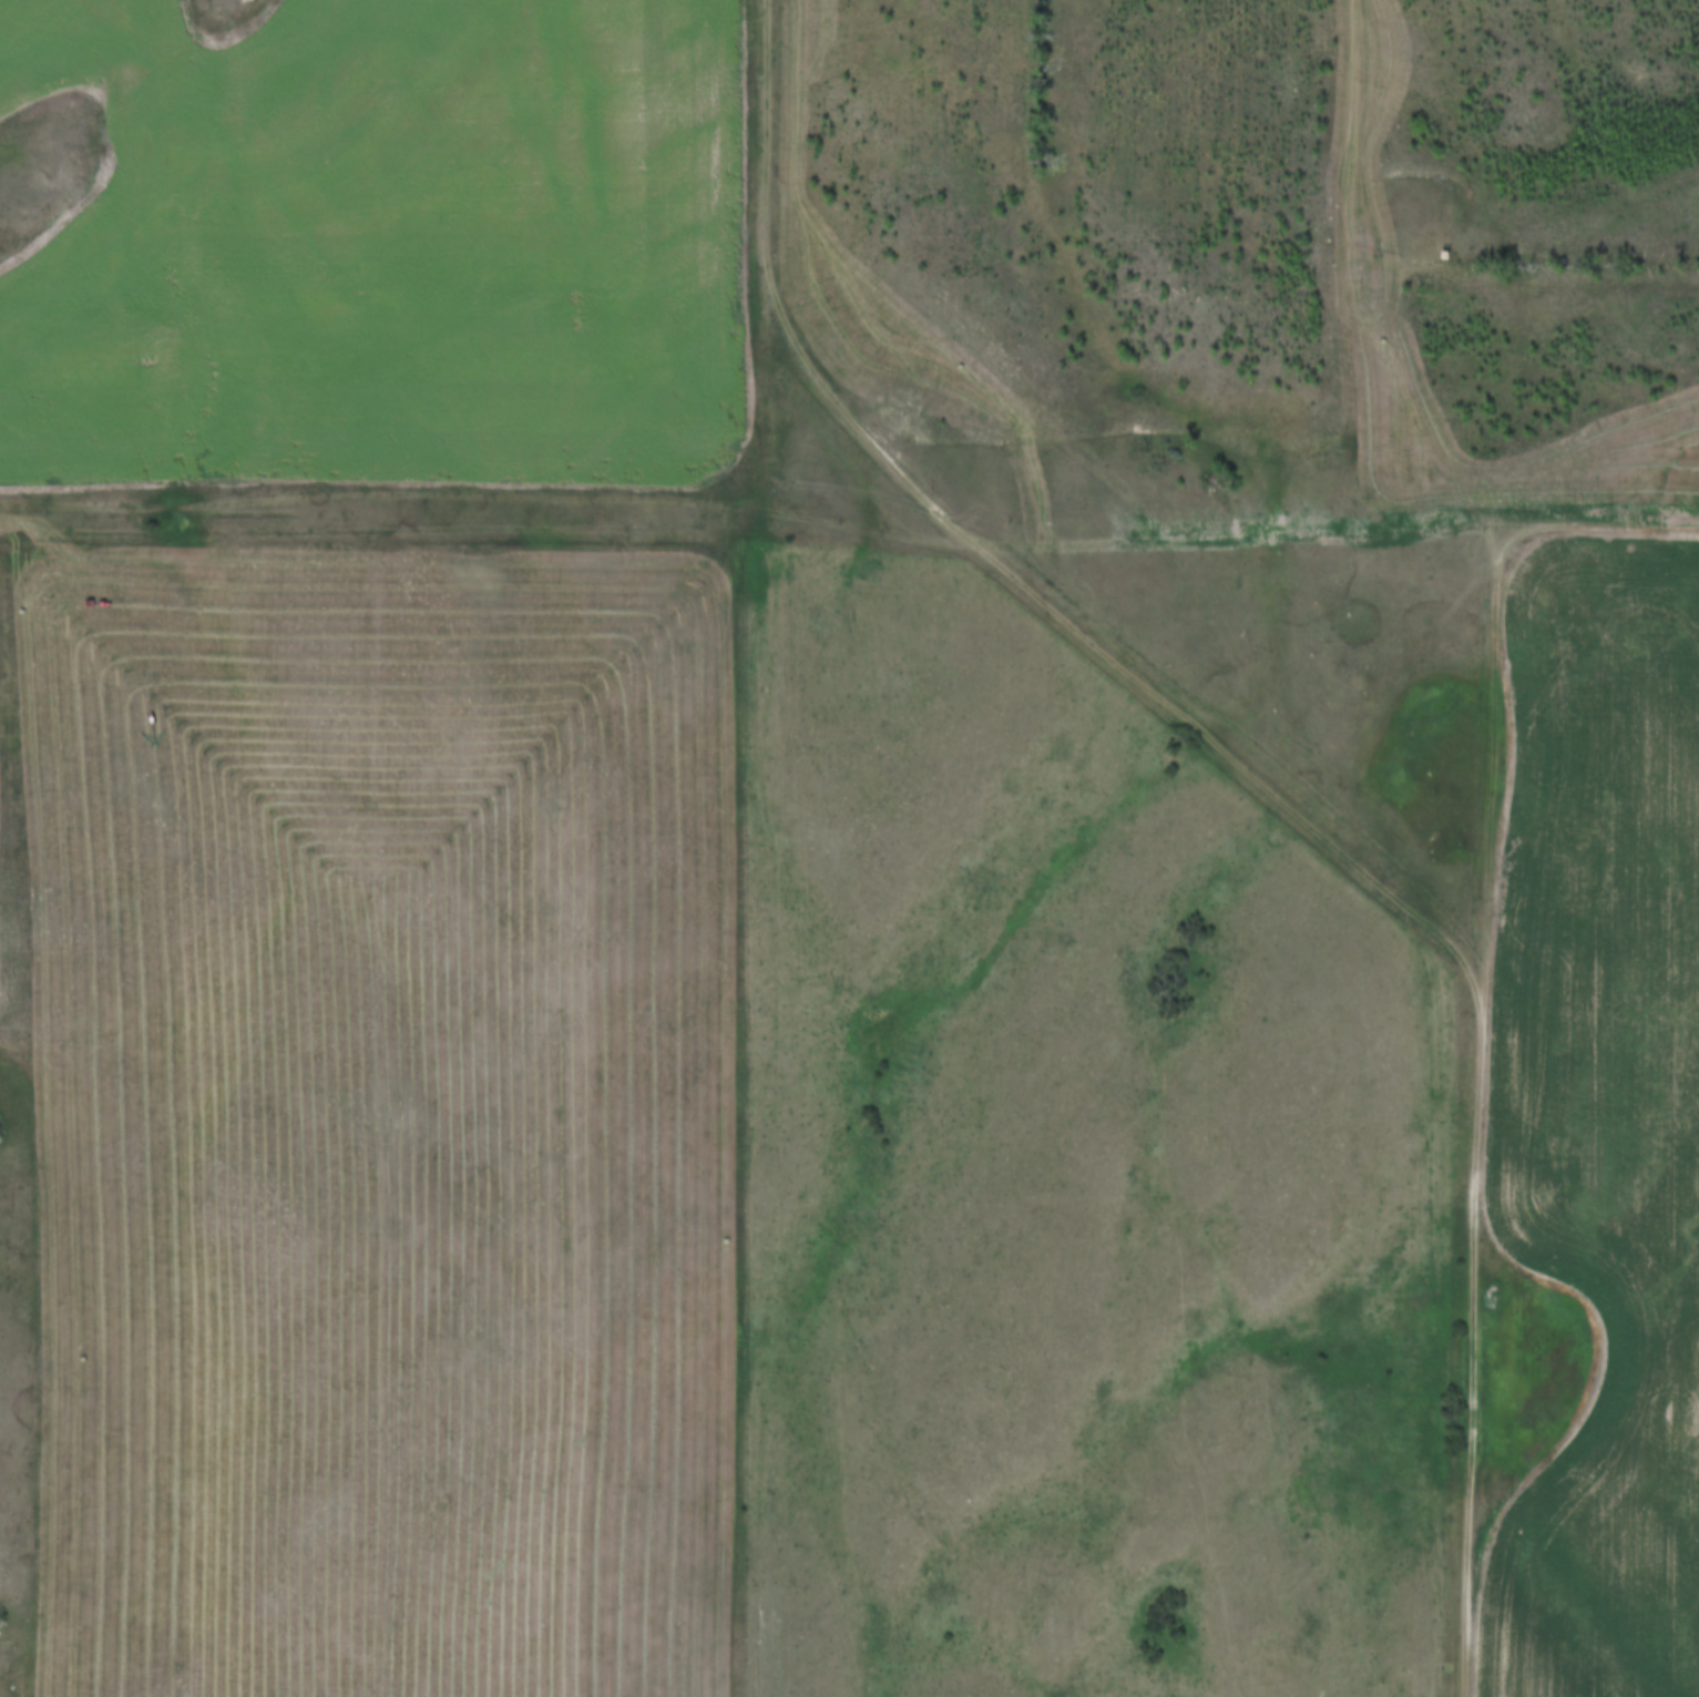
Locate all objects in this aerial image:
road: (781, 303)
road: (850, 523)
road: (1227, 755)
road: (1480, 1111)

